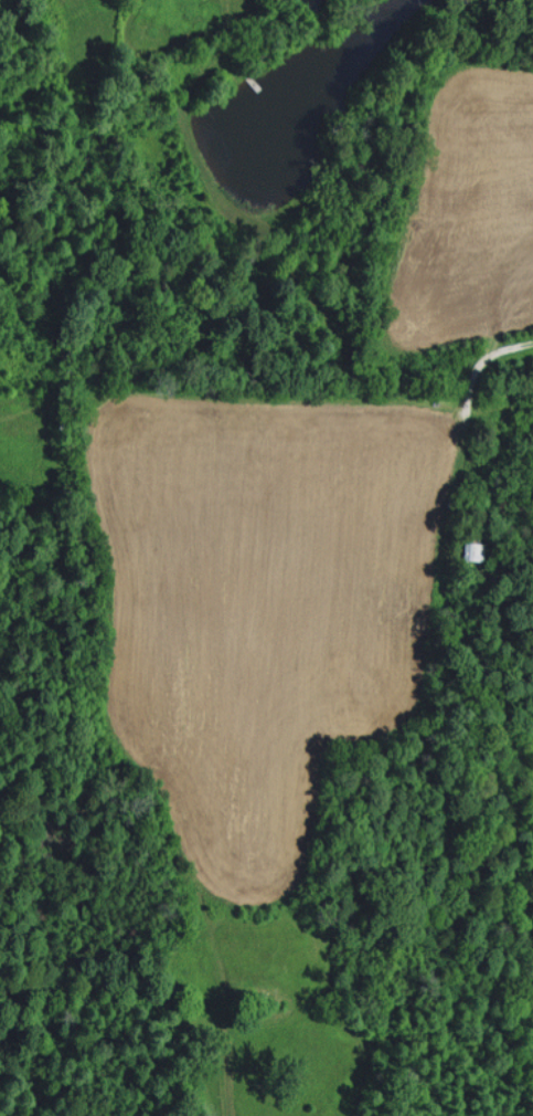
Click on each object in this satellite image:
building: (477, 546)

